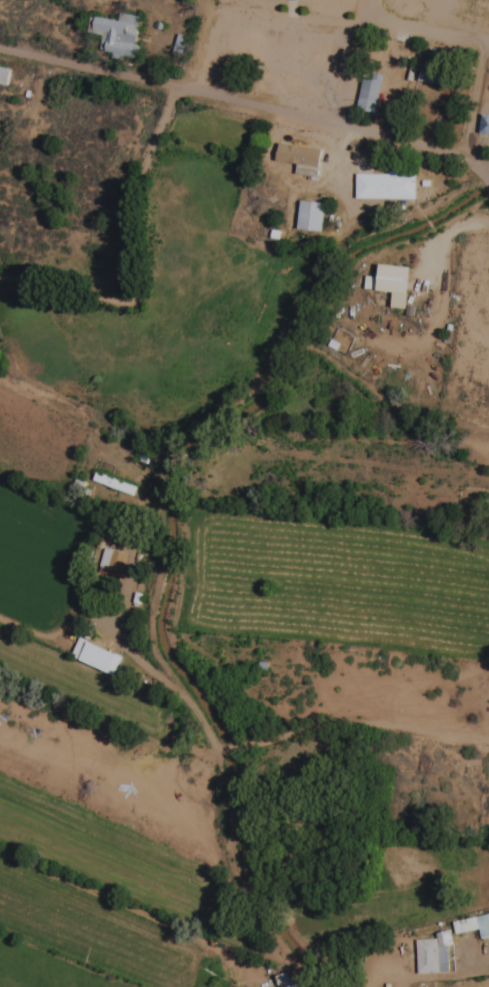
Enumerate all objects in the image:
building: (296, 0)
building: (118, 36)
parking lot: (280, 58)
building: (436, 58)
road: (355, 62)
building: (5, 77)
building: (436, 79)
building: (371, 93)
road: (250, 105)
building: (486, 126)
building: (299, 157)
building: (385, 186)
building: (312, 213)
road: (134, 260)
building: (397, 278)
building: (114, 483)
building: (97, 656)
road: (350, 726)
road: (219, 769)
building: (430, 958)

